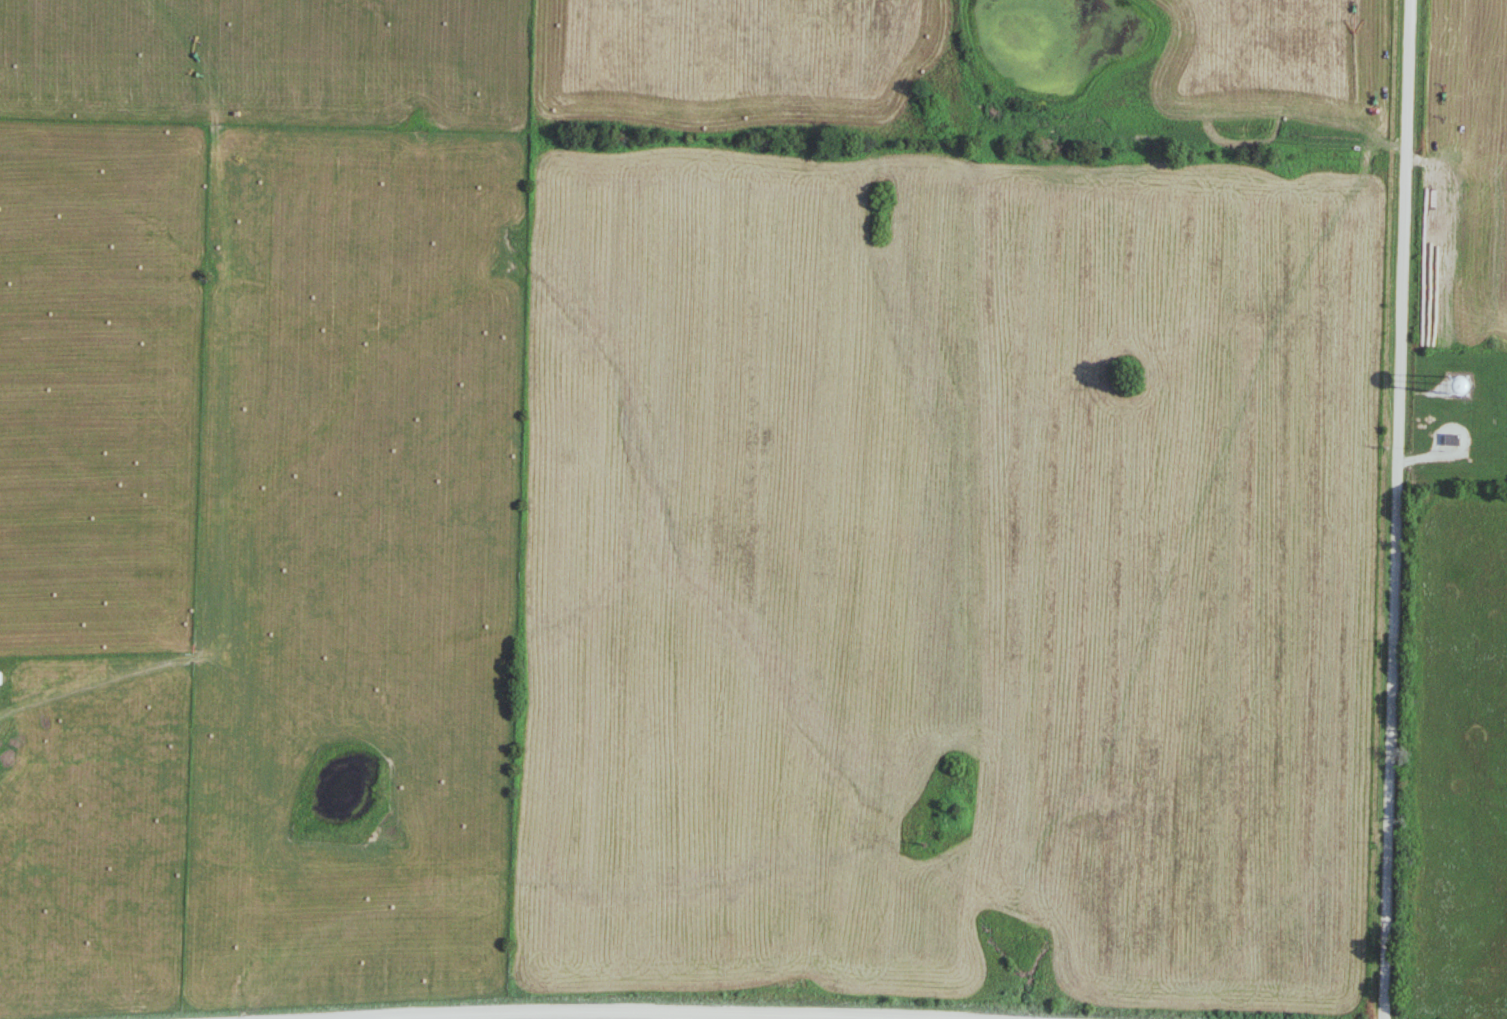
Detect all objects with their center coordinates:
road: (1397, 509)
road: (582, 1015)
road: (553, 1017)

